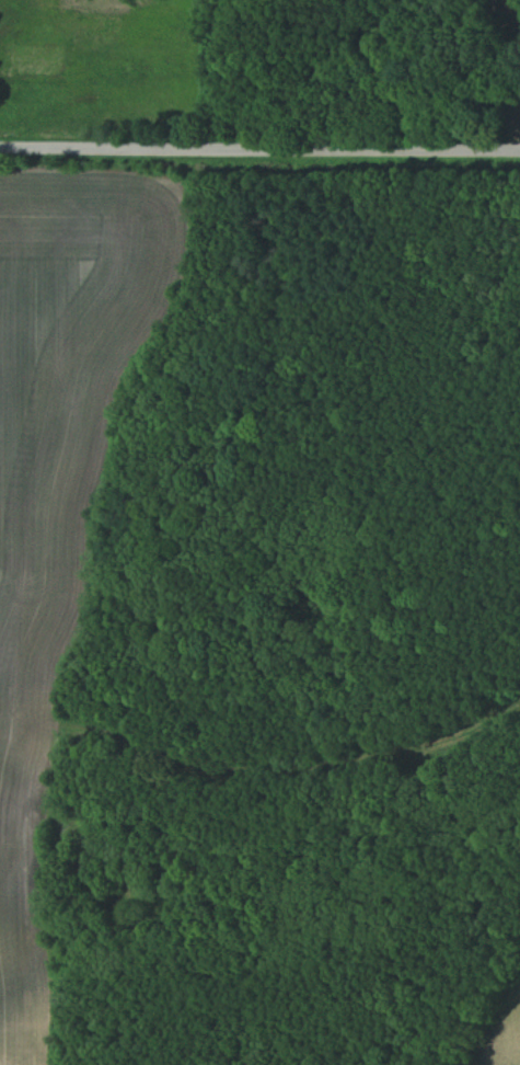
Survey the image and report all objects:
road: (259, 138)

